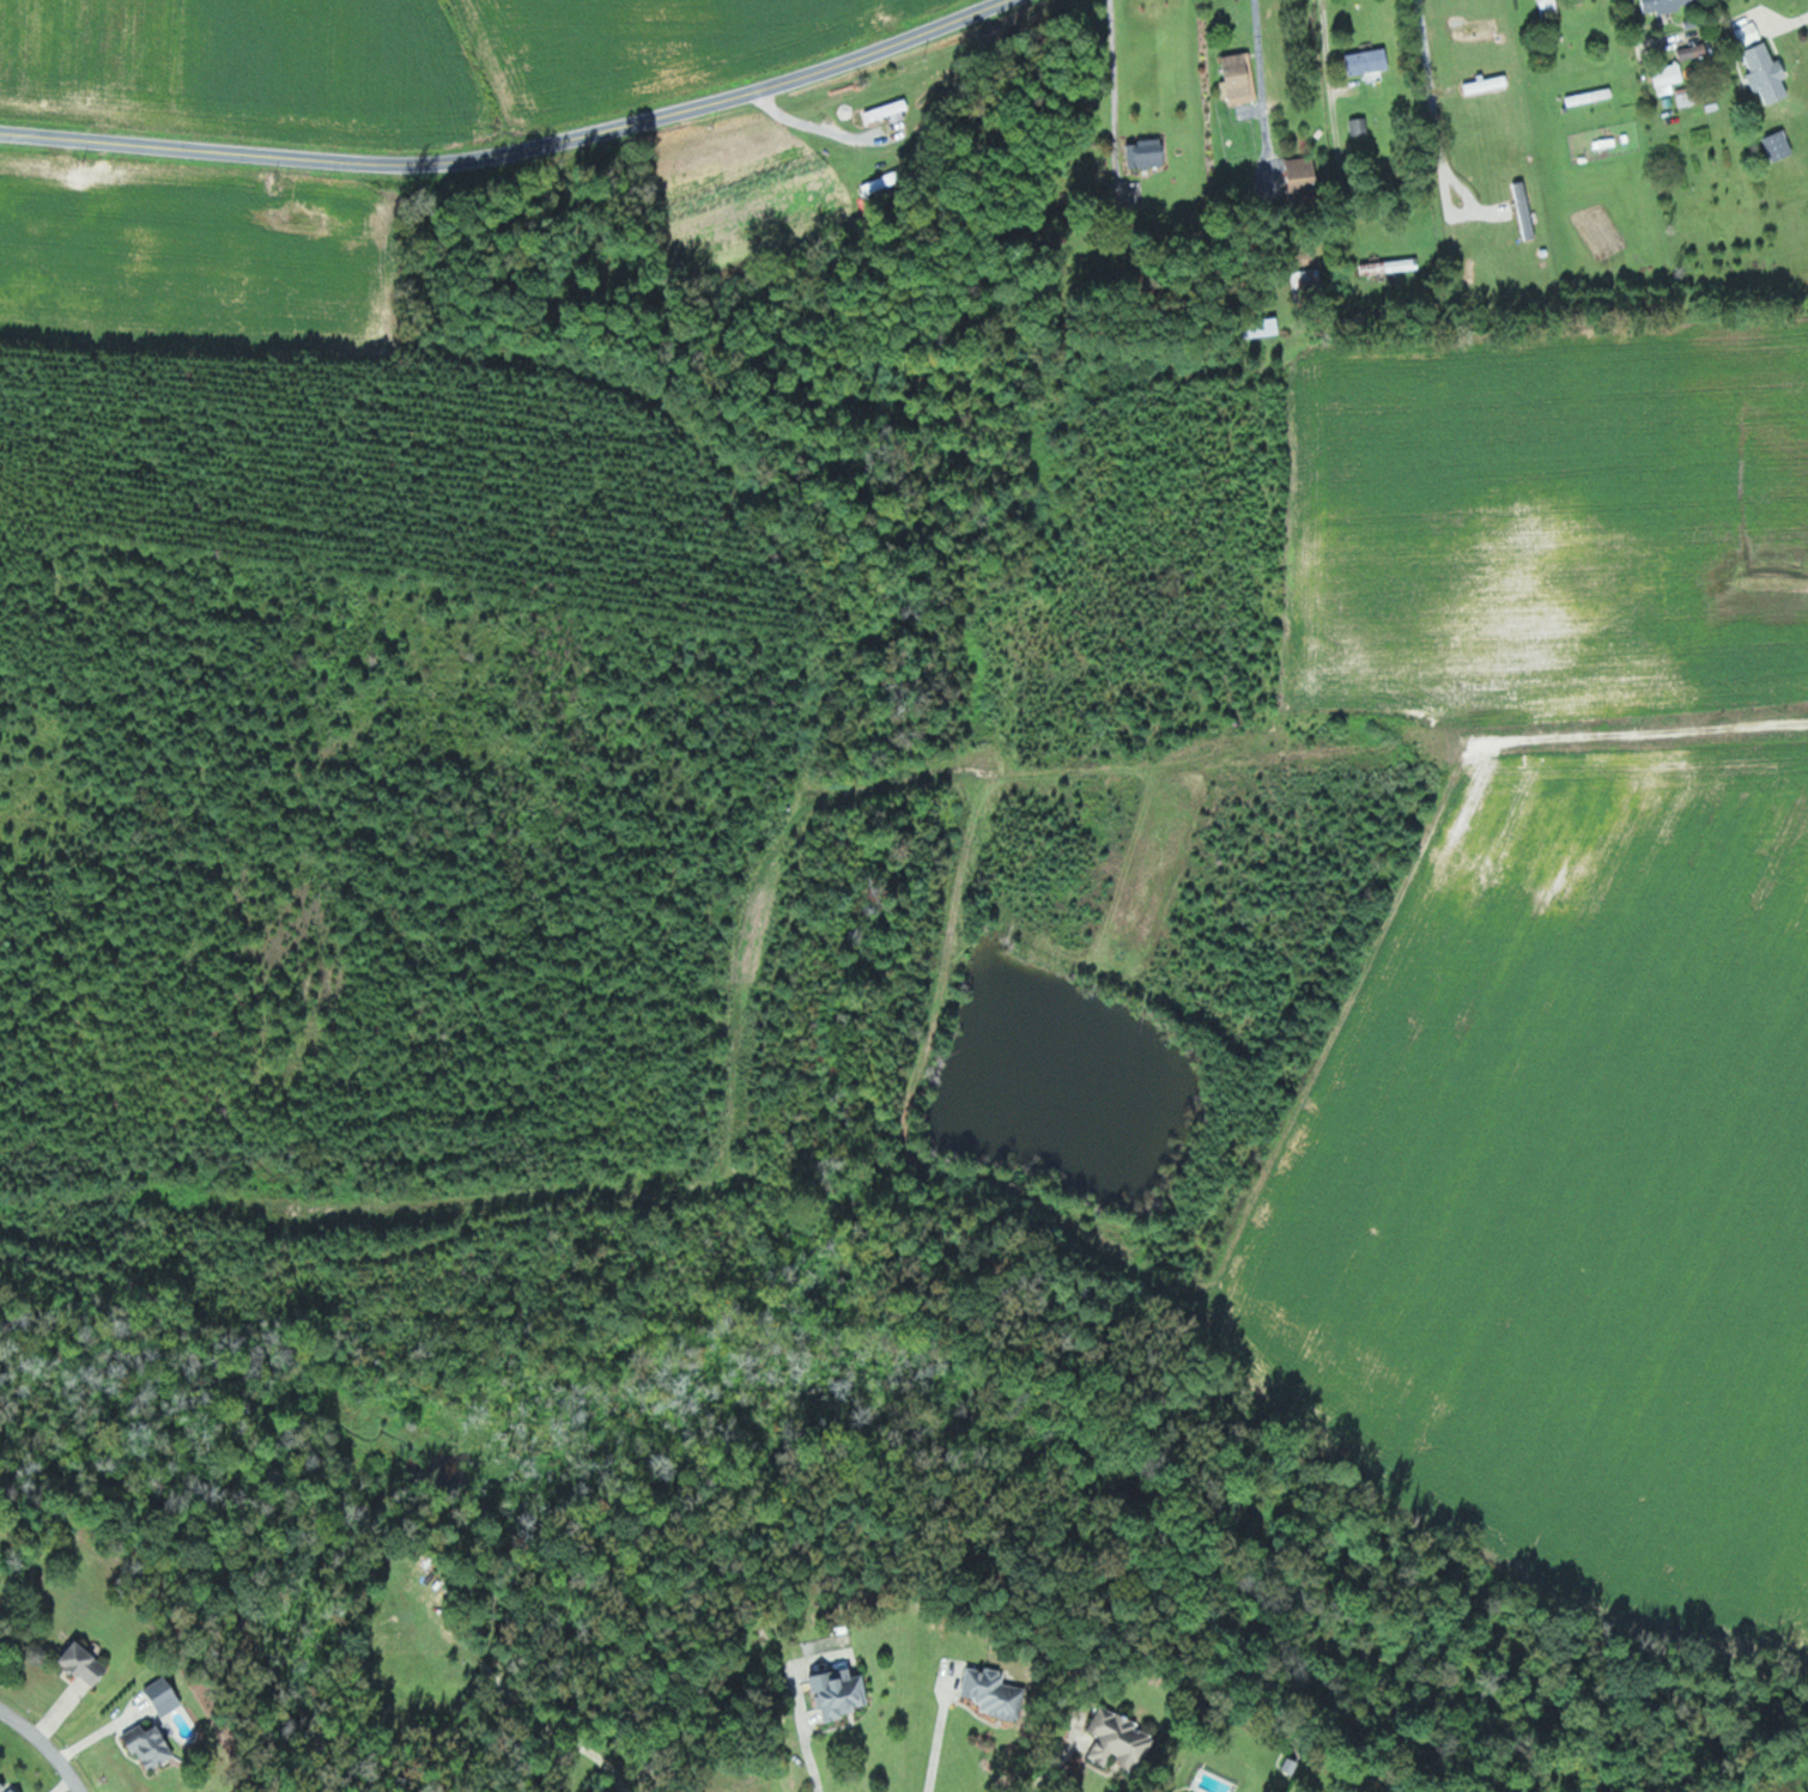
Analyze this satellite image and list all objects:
building: (1668, 5)
building: (1549, 6)
building: (1749, 32)
building: (1693, 50)
building: (1370, 60)
building: (1767, 72)
road: (1118, 75)
road: (1330, 75)
building: (1669, 77)
building: (1240, 78)
road: (1262, 90)
building: (1688, 96)
building: (891, 111)
building: (1359, 126)
road: (1436, 126)
building: (1780, 145)
road: (514, 151)
building: (1147, 153)
building: (1304, 176)
building: (1391, 266)
building: (1308, 288)
building: (1266, 327)
building: (87, 1662)
building: (994, 1690)
building: (842, 1691)
building: (166, 1694)
road: (799, 1703)
building: (1121, 1738)
building: (152, 1744)
road: (42, 1748)
building: (5, 1787)

